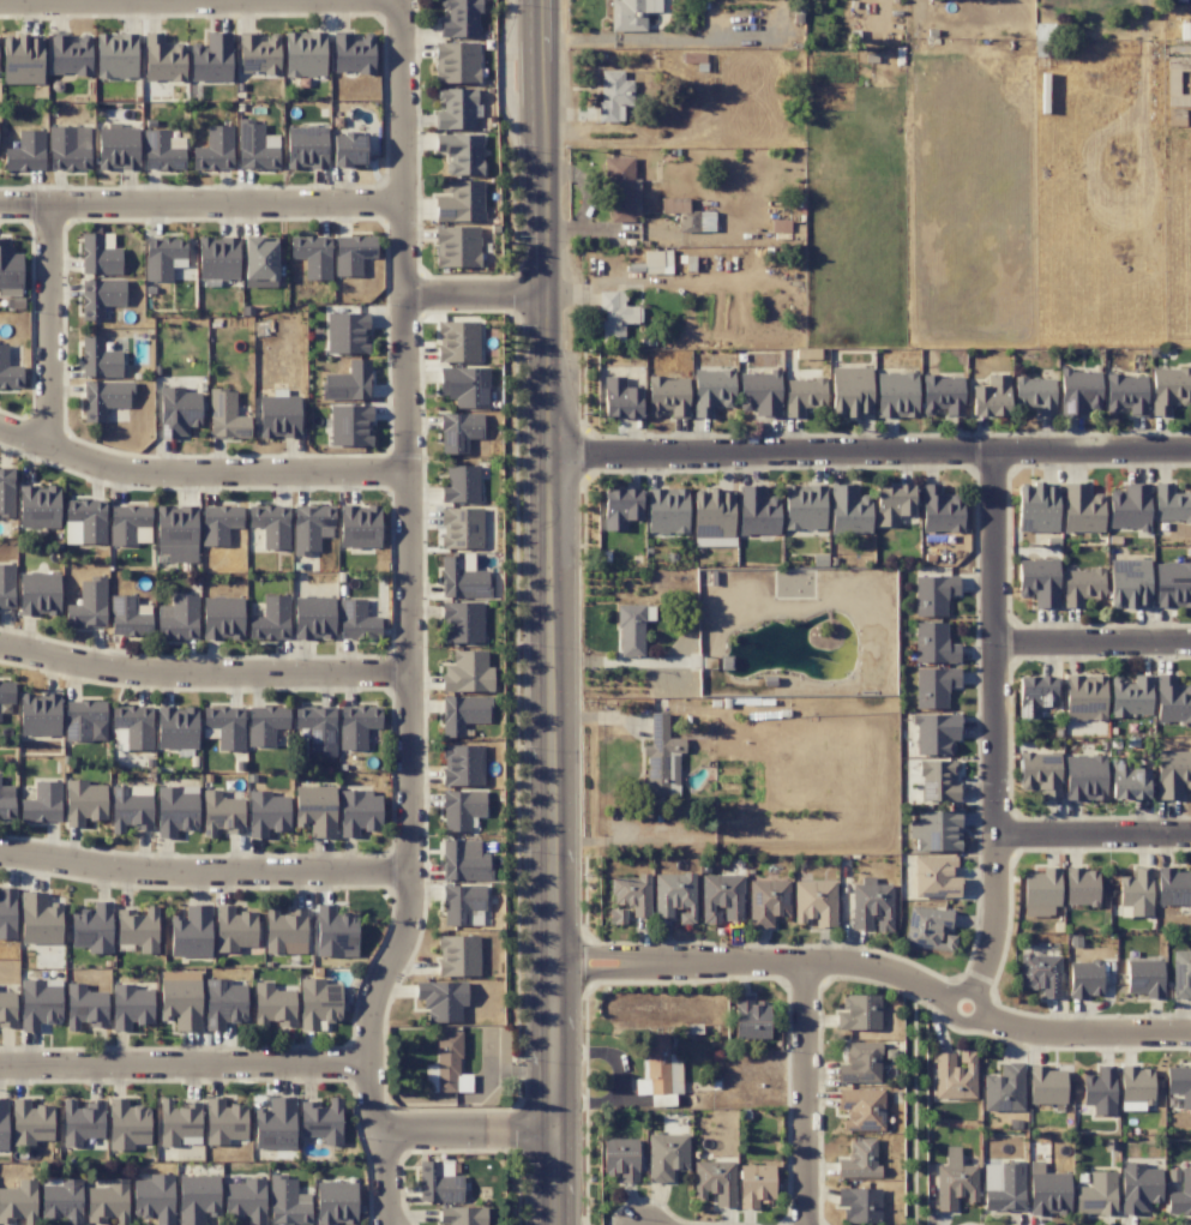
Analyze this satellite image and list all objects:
road: (200, 4)
building: (631, 13)
building: (458, 18)
building: (1043, 36)
road: (662, 40)
building: (258, 53)
building: (351, 53)
building: (303, 54)
building: (68, 55)
building: (115, 55)
building: (210, 58)
building: (22, 59)
building: (162, 59)
building: (456, 62)
building: (613, 95)
building: (456, 108)
building: (255, 146)
building: (306, 146)
building: (68, 148)
building: (118, 148)
building: (213, 149)
building: (162, 150)
building: (347, 150)
building: (25, 152)
building: (461, 152)
building: (621, 190)
road: (585, 199)
building: (459, 202)
road: (199, 205)
building: (687, 215)
building: (456, 246)
building: (351, 253)
building: (98, 254)
building: (312, 256)
building: (162, 257)
building: (217, 258)
building: (657, 260)
building: (259, 263)
road: (476, 294)
building: (100, 296)
building: (615, 316)
road: (48, 328)
building: (347, 334)
building: (457, 342)
building: (98, 359)
building: (8, 371)
building: (347, 382)
building: (464, 386)
building: (1169, 389)
building: (711, 390)
building: (850, 391)
building: (759, 392)
building: (1079, 392)
building: (896, 394)
building: (1035, 394)
building: (1126, 394)
building: (802, 395)
building: (943, 395)
building: (667, 396)
building: (991, 397)
building: (104, 398)
building: (620, 398)
building: (178, 412)
building: (225, 416)
building: (278, 416)
building: (349, 425)
building: (458, 432)
road: (871, 455)
road: (199, 473)
building: (461, 484)
building: (6, 492)
building: (892, 504)
building: (1171, 504)
building: (1037, 505)
building: (38, 506)
building: (804, 506)
building: (1129, 506)
building: (620, 508)
building: (1081, 509)
building: (849, 510)
building: (940, 510)
building: (666, 511)
building: (757, 511)
building: (712, 517)
building: (84, 521)
building: (218, 523)
building: (130, 524)
building: (270, 524)
building: (359, 526)
building: (311, 528)
building: (461, 528)
building: (176, 533)
building: (462, 577)
building: (1039, 582)
building: (1129, 583)
building: (1172, 584)
building: (6, 586)
building: (1081, 586)
building: (38, 593)
building: (933, 594)
building: (88, 605)
road: (552, 612)
building: (127, 617)
building: (313, 617)
building: (178, 618)
building: (222, 618)
road: (407, 618)
building: (270, 619)
building: (356, 620)
building: (462, 623)
building: (632, 629)
building: (934, 644)
road: (1094, 645)
building: (467, 672)
road: (201, 673)
building: (933, 686)
building: (6, 692)
building: (1034, 695)
building: (1130, 696)
building: (1084, 697)
building: (1172, 699)
building: (462, 713)
building: (38, 714)
building: (84, 720)
building: (265, 725)
building: (356, 725)
road: (995, 725)
building: (133, 726)
building: (224, 726)
building: (176, 727)
building: (317, 727)
building: (936, 733)
building: (660, 757)
building: (462, 764)
building: (1172, 773)
building: (1039, 774)
building: (1084, 777)
building: (1127, 780)
building: (938, 781)
building: (6, 801)
building: (83, 801)
building: (42, 803)
building: (130, 807)
building: (461, 809)
building: (175, 810)
building: (315, 810)
building: (266, 812)
building: (359, 812)
building: (221, 813)
building: (936, 830)
road: (1091, 833)
building: (463, 860)
road: (203, 871)
building: (934, 877)
building: (1081, 885)
building: (1173, 887)
building: (1041, 891)
building: (1136, 891)
building: (631, 894)
building: (674, 896)
building: (721, 897)
building: (766, 901)
building: (814, 902)
building: (462, 905)
building: (871, 905)
building: (7, 913)
building: (616, 915)
building: (38, 918)
building: (92, 927)
building: (138, 929)
building: (234, 929)
building: (927, 929)
building: (283, 931)
building: (191, 932)
building: (335, 932)
building: (457, 955)
road: (754, 961)
building: (1180, 973)
building: (1040, 974)
building: (1084, 978)
building: (1144, 978)
road: (966, 990)
building: (180, 998)
building: (441, 999)
building: (38, 1003)
building: (223, 1003)
building: (318, 1003)
building: (272, 1005)
building: (85, 1007)
building: (130, 1007)
building: (7, 1009)
building: (859, 1013)
building: (750, 1017)
road: (1082, 1033)
road: (184, 1063)
building: (860, 1063)
building: (446, 1065)
building: (658, 1071)
building: (954, 1075)
road: (619, 1080)
building: (1179, 1083)
building: (1136, 1085)
building: (1046, 1086)
building: (1004, 1088)
building: (1099, 1091)
road: (804, 1093)
building: (861, 1109)
building: (321, 1121)
building: (30, 1122)
building: (80, 1122)
building: (223, 1122)
building: (178, 1123)
building: (2, 1124)
building: (126, 1124)
building: (273, 1124)
road: (464, 1130)
building: (666, 1155)
building: (619, 1158)
building: (859, 1159)
building: (954, 1181)
building: (438, 1182)
building: (714, 1182)
building: (754, 1184)
building: (1003, 1187)
building: (1138, 1187)
building: (1047, 1190)
building: (1096, 1194)
building: (1180, 1194)
building: (154, 1199)
building: (197, 1199)
building: (61, 1200)
building: (245, 1200)
building: (18, 1202)
building: (107, 1202)
building: (287, 1202)
building: (335, 1202)
building: (859, 1205)
building: (462, 1215)

